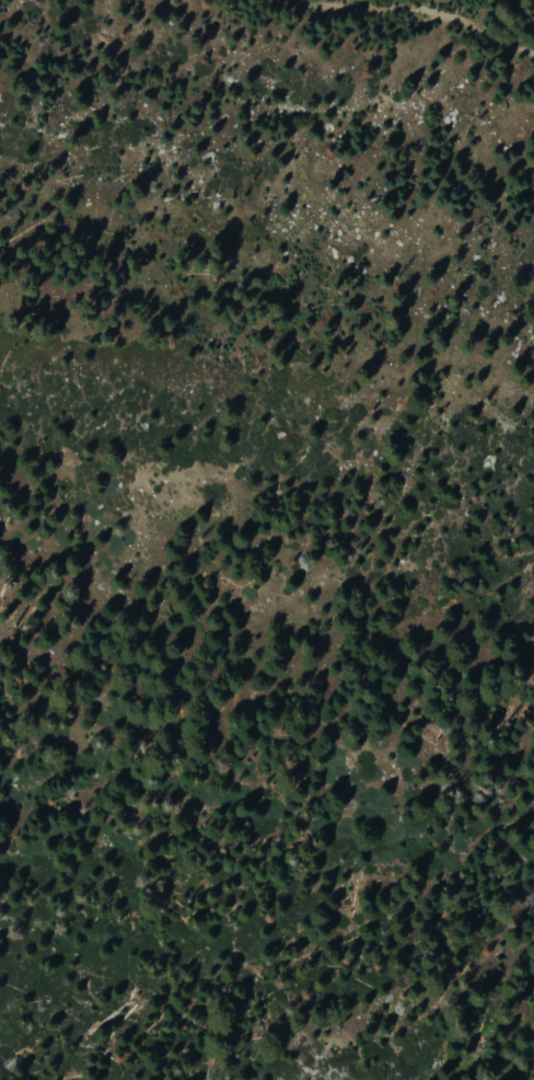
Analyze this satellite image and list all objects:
road: (443, 23)

